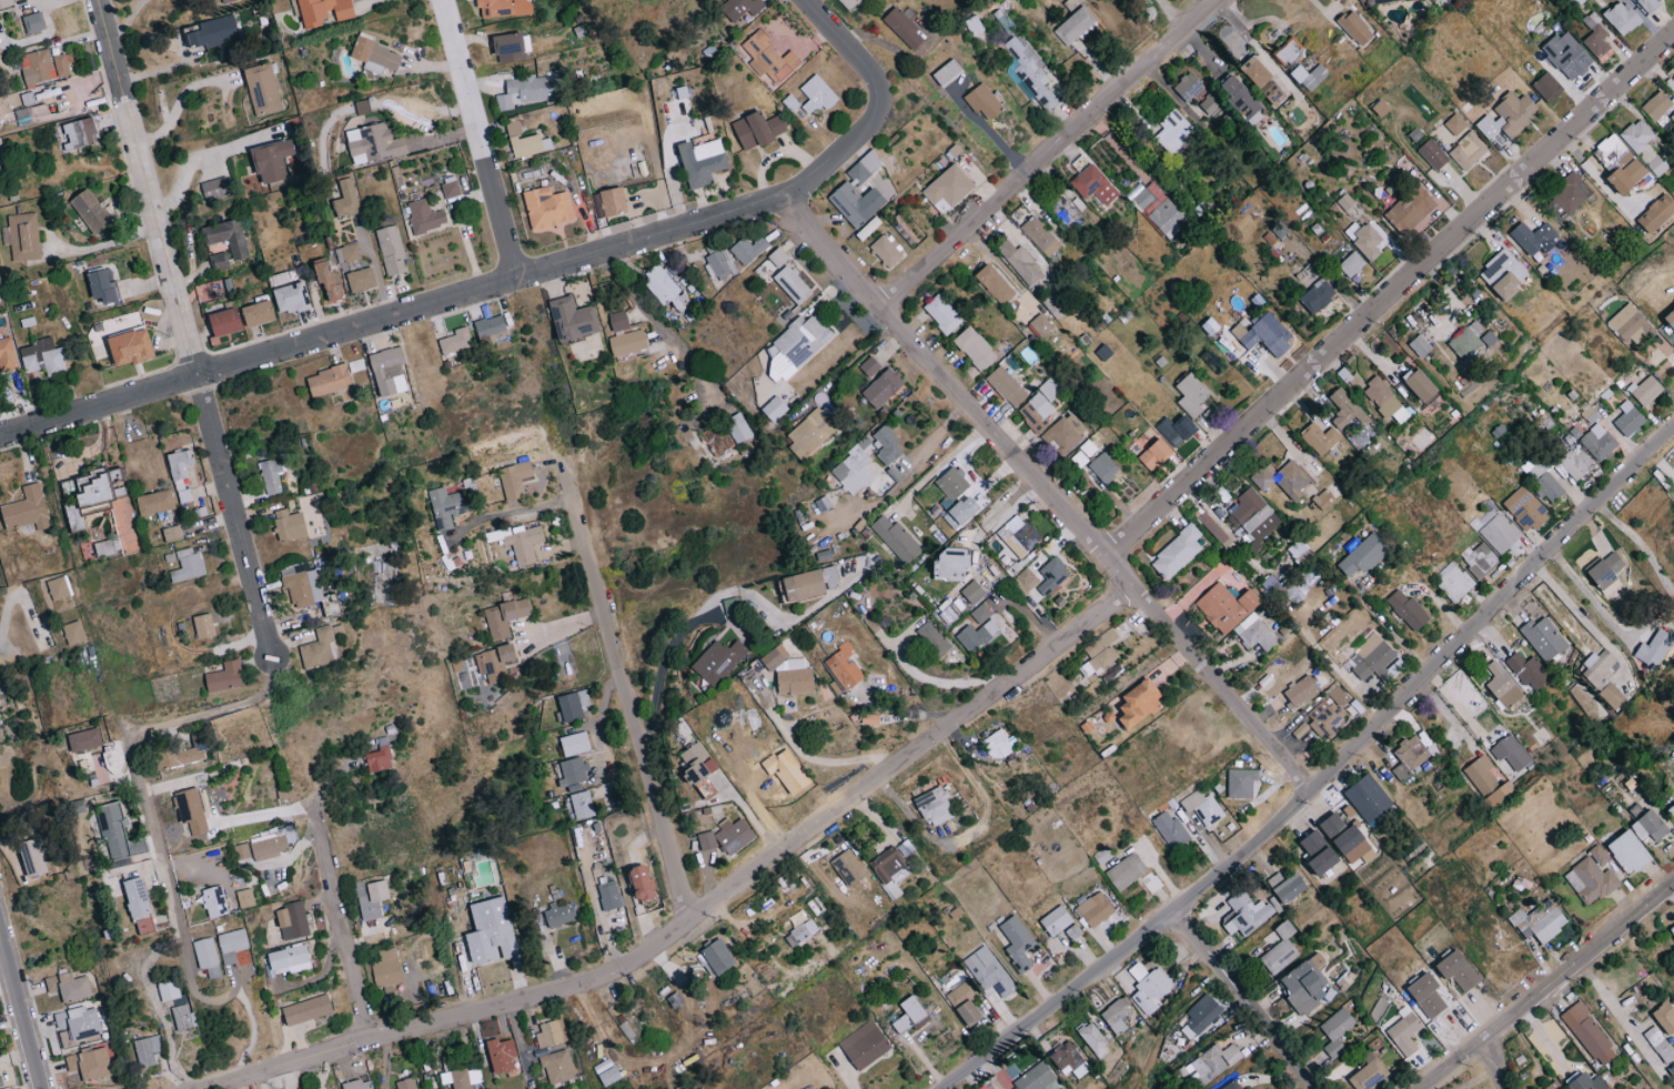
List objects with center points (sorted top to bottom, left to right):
building: (229, 1)
building: (1373, 1)
building: (6, 2)
road: (33, 3)
building: (850, 3)
building: (1648, 3)
building: (742, 7)
building: (504, 8)
building: (322, 10)
building: (1623, 17)
road: (127, 21)
building: (33, 22)
building: (1075, 26)
building: (902, 27)
building: (1355, 28)
building: (214, 32)
building: (1596, 36)
building: (512, 47)
building: (1289, 51)
building: (1567, 54)
building: (376, 56)
building: (769, 57)
building: (61, 64)
building: (37, 67)
building: (948, 71)
building: (1031, 71)
building: (1257, 71)
building: (1309, 75)
building: (1671, 83)
building: (1189, 85)
building: (1547, 87)
building: (262, 89)
building: (526, 90)
building: (1275, 92)
building: (817, 94)
building: (1241, 99)
building: (984, 101)
road: (177, 103)
road: (880, 105)
building: (1657, 105)
building: (1509, 115)
building: (1672, 117)
building: (1455, 123)
building: (758, 129)
building: (1172, 129)
building: (81, 132)
road: (480, 138)
building: (522, 139)
building: (374, 142)
building: (1644, 145)
building: (1468, 151)
road: (1046, 152)
building: (1433, 154)
building: (272, 160)
building: (703, 161)
building: (1620, 163)
building: (864, 168)
road: (185, 172)
building: (1095, 184)
building: (451, 186)
building: (213, 188)
building: (948, 188)
building: (1572, 193)
building: (1142, 198)
building: (347, 199)
building: (613, 201)
building: (856, 203)
building: (548, 208)
building: (1412, 209)
building: (91, 211)
building: (1657, 213)
building: (425, 215)
building: (1167, 218)
building: (869, 228)
building: (22, 235)
building: (1040, 235)
building: (228, 236)
building: (1533, 236)
building: (1367, 240)
road: (103, 246)
building: (391, 250)
building: (748, 250)
building: (886, 250)
building: (347, 252)
building: (778, 256)
building: (1025, 260)
building: (220, 261)
building: (1351, 264)
building: (716, 265)
road: (375, 266)
building: (1505, 273)
building: (361, 279)
building: (329, 280)
building: (995, 283)
building: (793, 284)
building: (103, 285)
building: (665, 288)
road: (1391, 292)
building: (1317, 296)
building: (292, 298)
building: (259, 313)
building: (944, 313)
road: (392, 314)
building: (1671, 317)
building: (574, 319)
building: (618, 320)
building: (225, 321)
building: (1626, 321)
building: (1042, 322)
building: (491, 325)
road: (184, 327)
road: (663, 329)
building: (1263, 333)
building: (1489, 339)
building: (457, 340)
building: (1468, 341)
road: (79, 343)
building: (628, 343)
building: (797, 345)
building: (1420, 345)
building: (132, 346)
building: (977, 347)
building: (8, 355)
building: (43, 357)
building: (355, 364)
building: (870, 365)
building: (390, 371)
building: (329, 380)
building: (1007, 385)
building: (1423, 385)
building: (883, 386)
building: (1646, 390)
building: (1191, 394)
building: (1385, 401)
building: (1039, 406)
building: (775, 407)
building: (1347, 410)
building: (1628, 419)
building: (737, 427)
building: (1177, 430)
building: (1065, 432)
building: (811, 433)
building: (1320, 437)
building: (715, 440)
building: (1599, 442)
building: (887, 445)
building: (1156, 454)
building: (1574, 462)
road: (1660, 462)
building: (180, 464)
building: (1103, 466)
building: (854, 468)
building: (1535, 471)
building: (271, 476)
building: (515, 478)
building: (1282, 478)
building: (1549, 488)
road: (1051, 491)
building: (954, 494)
building: (184, 495)
building: (1324, 498)
building: (155, 503)
building: (111, 504)
building: (445, 506)
building: (27, 508)
building: (1525, 508)
road: (511, 511)
building: (1252, 515)
building: (290, 525)
building: (1213, 528)
building: (171, 533)
building: (1500, 533)
building: (1020, 535)
building: (897, 538)
road: (1638, 541)
building: (523, 543)
building: (103, 548)
building: (1178, 553)
building: (1364, 554)
building: (1479, 558)
building: (952, 564)
building: (188, 565)
building: (1606, 573)
building: (1052, 575)
building: (831, 577)
building: (1025, 581)
building: (1453, 581)
building: (302, 585)
building: (805, 585)
building: (59, 588)
building: (974, 591)
road: (16, 597)
road: (714, 597)
road: (1591, 598)
building: (730, 605)
building: (1409, 609)
building: (980, 613)
building: (1237, 615)
building: (505, 617)
road: (1584, 621)
road: (563, 625)
building: (204, 626)
building: (73, 632)
building: (977, 635)
building: (934, 638)
building: (1544, 638)
building: (1106, 639)
building: (320, 648)
building: (1654, 648)
building: (1372, 657)
building: (718, 661)
building: (495, 662)
building: (1099, 662)
road: (1332, 665)
building: (845, 667)
building: (1600, 667)
building: (1530, 670)
building: (789, 673)
building: (225, 676)
building: (1502, 686)
building: (1301, 690)
building: (1580, 695)
building: (1612, 696)
building: (1141, 704)
building: (572, 705)
road: (633, 708)
building: (1323, 716)
building: (870, 718)
building: (0, 739)
building: (84, 739)
building: (575, 743)
building: (999, 744)
building: (183, 752)
building: (1511, 753)
building: (1409, 756)
road: (805, 757)
building: (377, 760)
road: (133, 767)
building: (699, 768)
building: (573, 770)
building: (1481, 774)
road: (1320, 777)
building: (1241, 783)
building: (1497, 794)
building: (1368, 798)
building: (582, 805)
building: (934, 806)
building: (1202, 807)
building: (192, 810)
building: (1672, 810)
building: (1651, 826)
building: (1171, 830)
building: (734, 835)
building: (117, 837)
building: (1345, 837)
building: (706, 840)
building: (906, 849)
building: (241, 851)
building: (1320, 853)
building: (1630, 853)
building: (1102, 855)
building: (1600, 855)
building: (33, 858)
building: (849, 868)
building: (1127, 871)
building: (1591, 880)
building: (644, 883)
building: (1285, 886)
building: (609, 895)
building: (137, 897)
building: (245, 898)
building: (374, 899)
building: (215, 901)
building: (1095, 909)
building: (559, 914)
building: (1246, 914)
road: (344, 916)
road: (692, 916)
building: (292, 921)
building: (1540, 921)
building: (1059, 922)
building: (1672, 930)
building: (491, 932)
building: (800, 934)
building: (1018, 941)
building: (232, 944)
building: (1280, 949)
building: (206, 956)
building: (719, 957)
building: (289, 959)
building: (386, 967)
building: (1460, 970)
building: (988, 971)
road: (1542, 982)
building: (1307, 985)
building: (69, 987)
building: (1148, 987)
building: (168, 989)
road: (1246, 991)
building: (1428, 995)
building: (965, 1004)
road: (21, 1008)
building: (306, 1009)
road: (1616, 1010)
building: (1202, 1012)
building: (910, 1014)
building: (182, 1016)
building: (1117, 1016)
building: (1665, 1017)
building: (78, 1024)
building: (1335, 1030)
building: (1405, 1033)
building: (1589, 1035)
building: (1095, 1038)
building: (864, 1045)
building: (1660, 1045)
building: (147, 1049)
building: (554, 1052)
building: (502, 1055)
building: (1070, 1060)
road: (1486, 1060)
building: (1212, 1062)
building: (90, 1063)
building: (608, 1072)
building: (1671, 1072)
building: (1369, 1073)
building: (1589, 1082)
building: (405, 1083)
building: (359, 1085)
building: (1052, 1086)
building: (1233, 1086)
building: (1554, 1086)
building: (0, 1087)
building: (987, 1087)
building: (1063, 1088)

